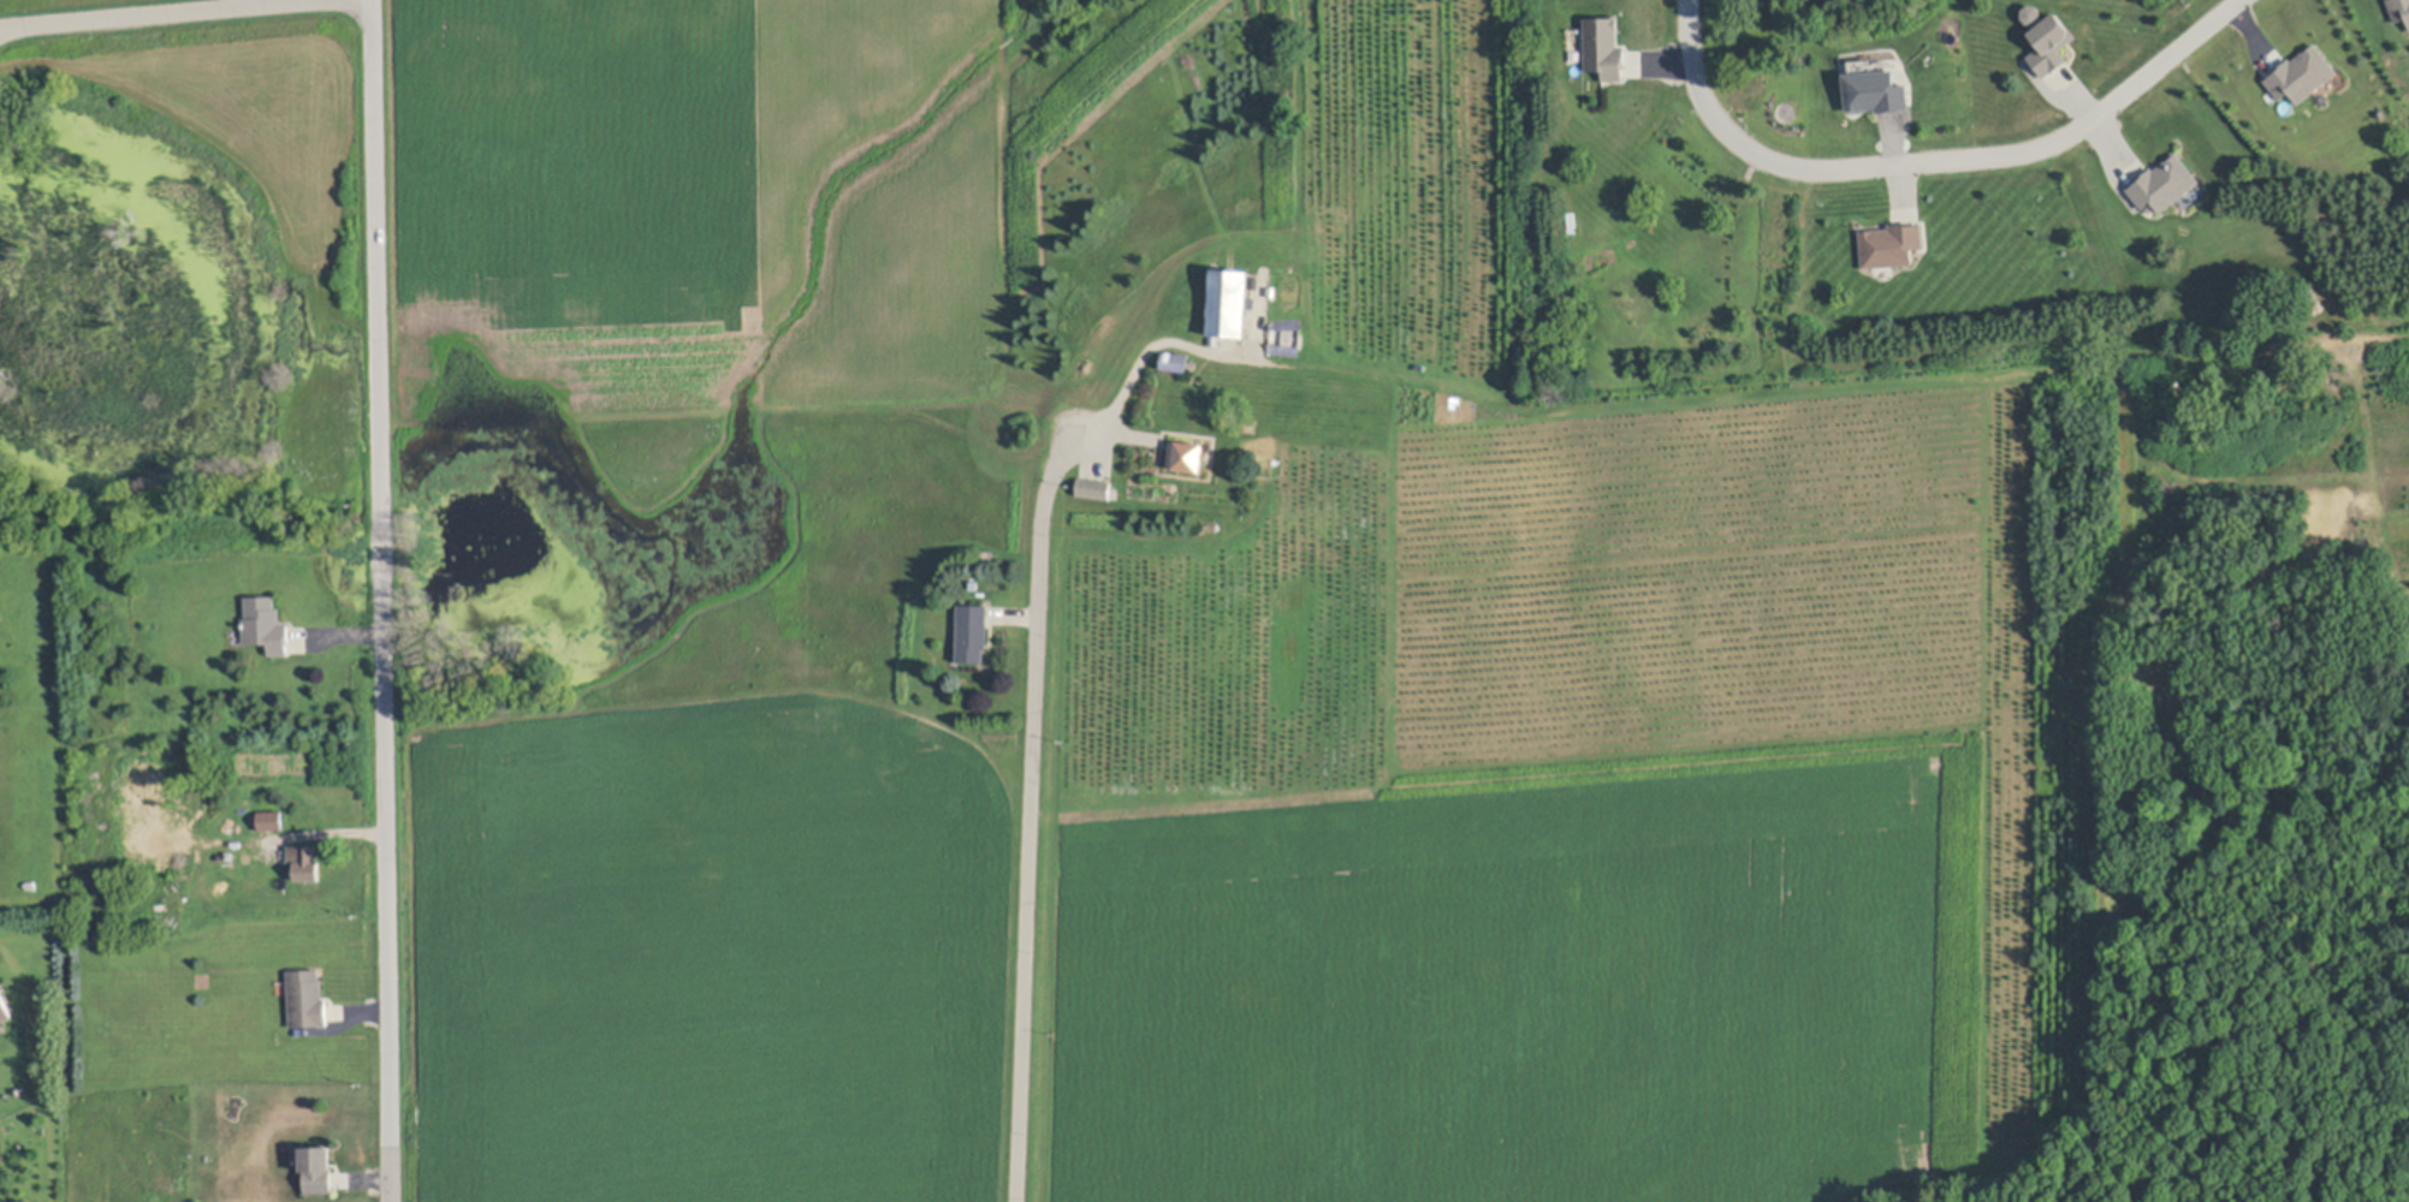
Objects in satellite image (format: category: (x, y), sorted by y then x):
building: (2399, 10)
road: (152, 13)
building: (2049, 43)
building: (1603, 46)
building: (2302, 75)
building: (1875, 90)
road: (1930, 160)
building: (2165, 185)
crop: (702, 203)
building: (1891, 245)
building: (1229, 304)
building: (1287, 338)
building: (1177, 361)
building: (1185, 454)
building: (1096, 487)
road: (380, 601)
building: (265, 624)
building: (973, 631)
building: (177, 813)
building: (269, 817)
building: (150, 823)
road: (1030, 841)
building: (304, 861)
building: (308, 996)
building: (4, 1008)
building: (319, 1171)

